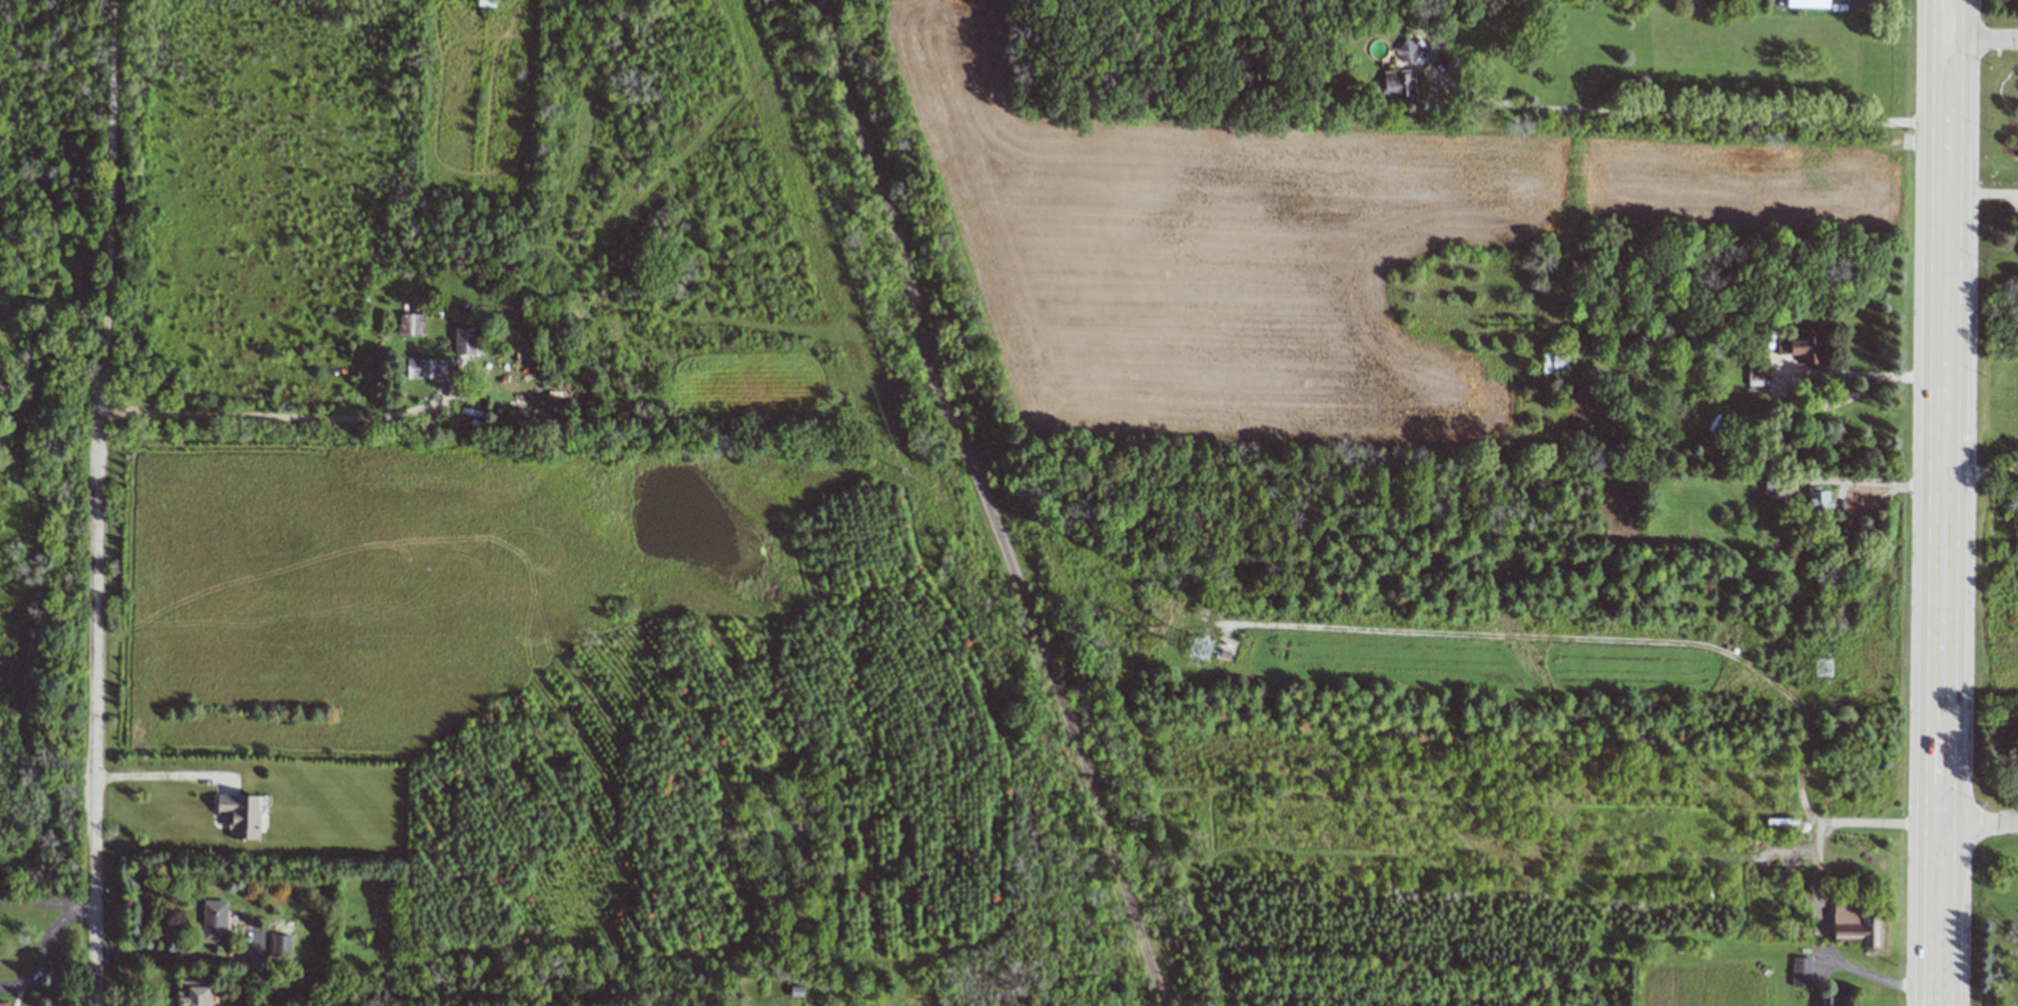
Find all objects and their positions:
building: (1807, 3)
building: (1856, 3)
road: (819, 6)
road: (1947, 15)
road: (1982, 29)
building: (1406, 50)
building: (1396, 86)
road: (1684, 118)
road: (108, 204)
crop: (1302, 246)
road: (1944, 283)
building: (410, 324)
building: (464, 341)
building: (1806, 346)
building: (428, 368)
building: (1758, 372)
road: (270, 416)
road: (1980, 464)
building: (1772, 483)
building: (1818, 499)
road: (984, 502)
power tower: (937, 564)
power tower: (1195, 647)
road: (95, 707)
road: (1939, 771)
road: (153, 777)
road: (1978, 817)
road: (1877, 823)
road: (37, 902)
road: (83, 904)
building: (214, 920)
building: (1854, 926)
building: (280, 945)
road: (40, 951)
road: (173, 955)
building: (1800, 972)
road: (1878, 978)
building: (193, 993)
building: (1823, 1002)
building: (3, 1004)

